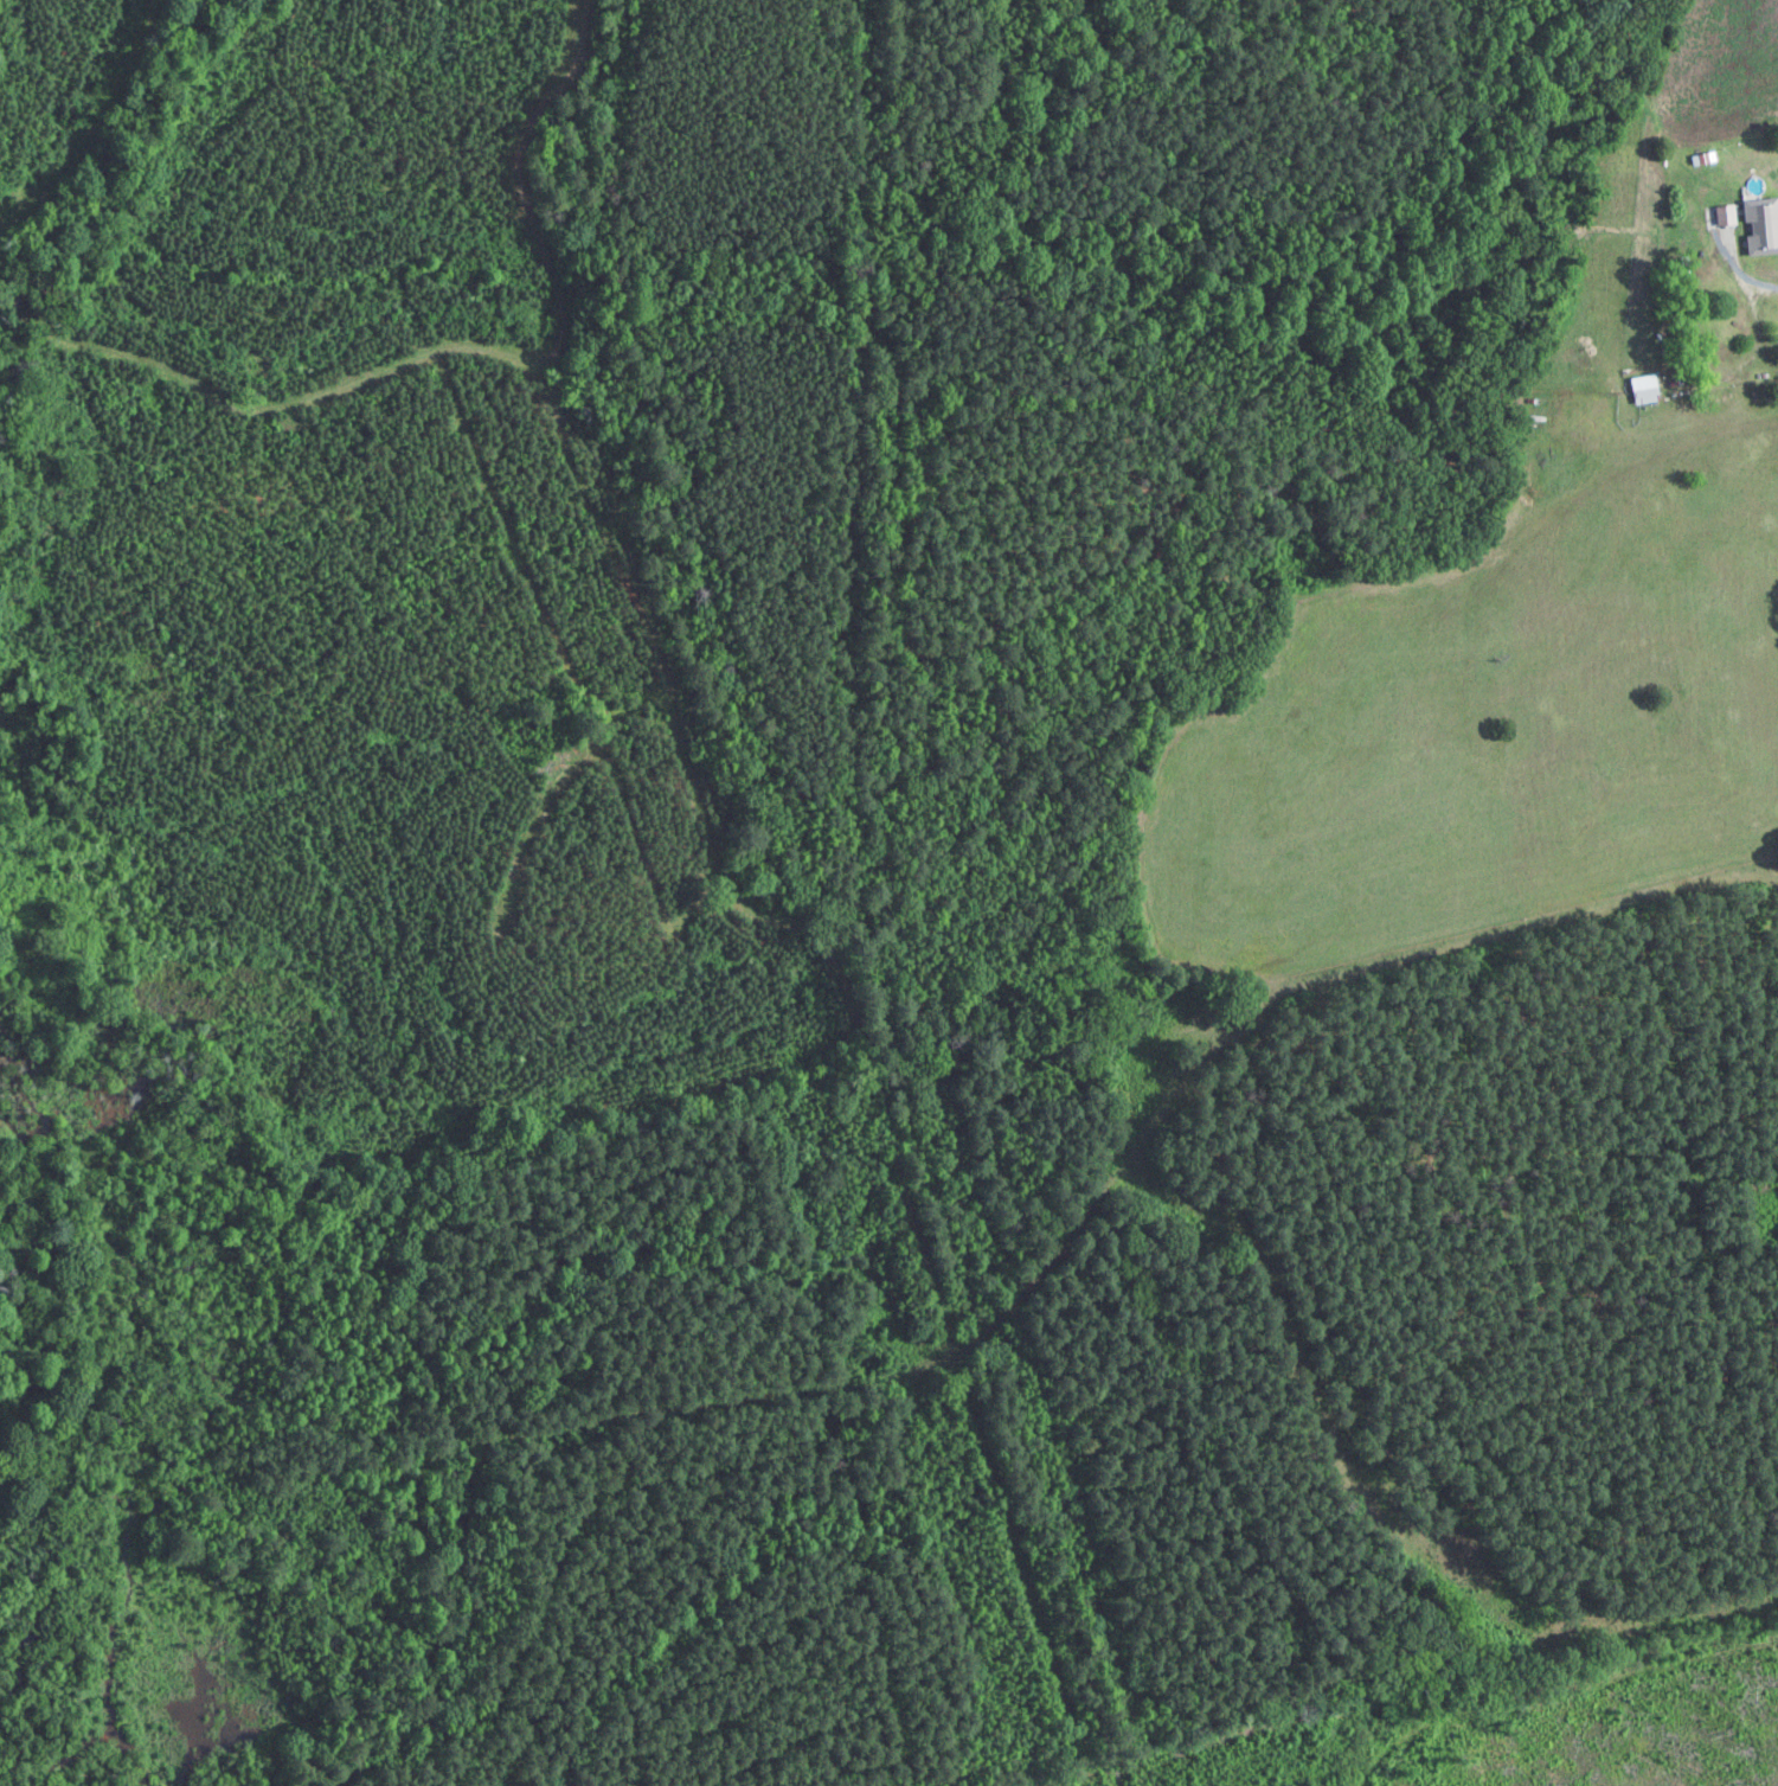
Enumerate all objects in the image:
building: (1757, 229)
road: (1761, 283)
building: (1642, 397)

